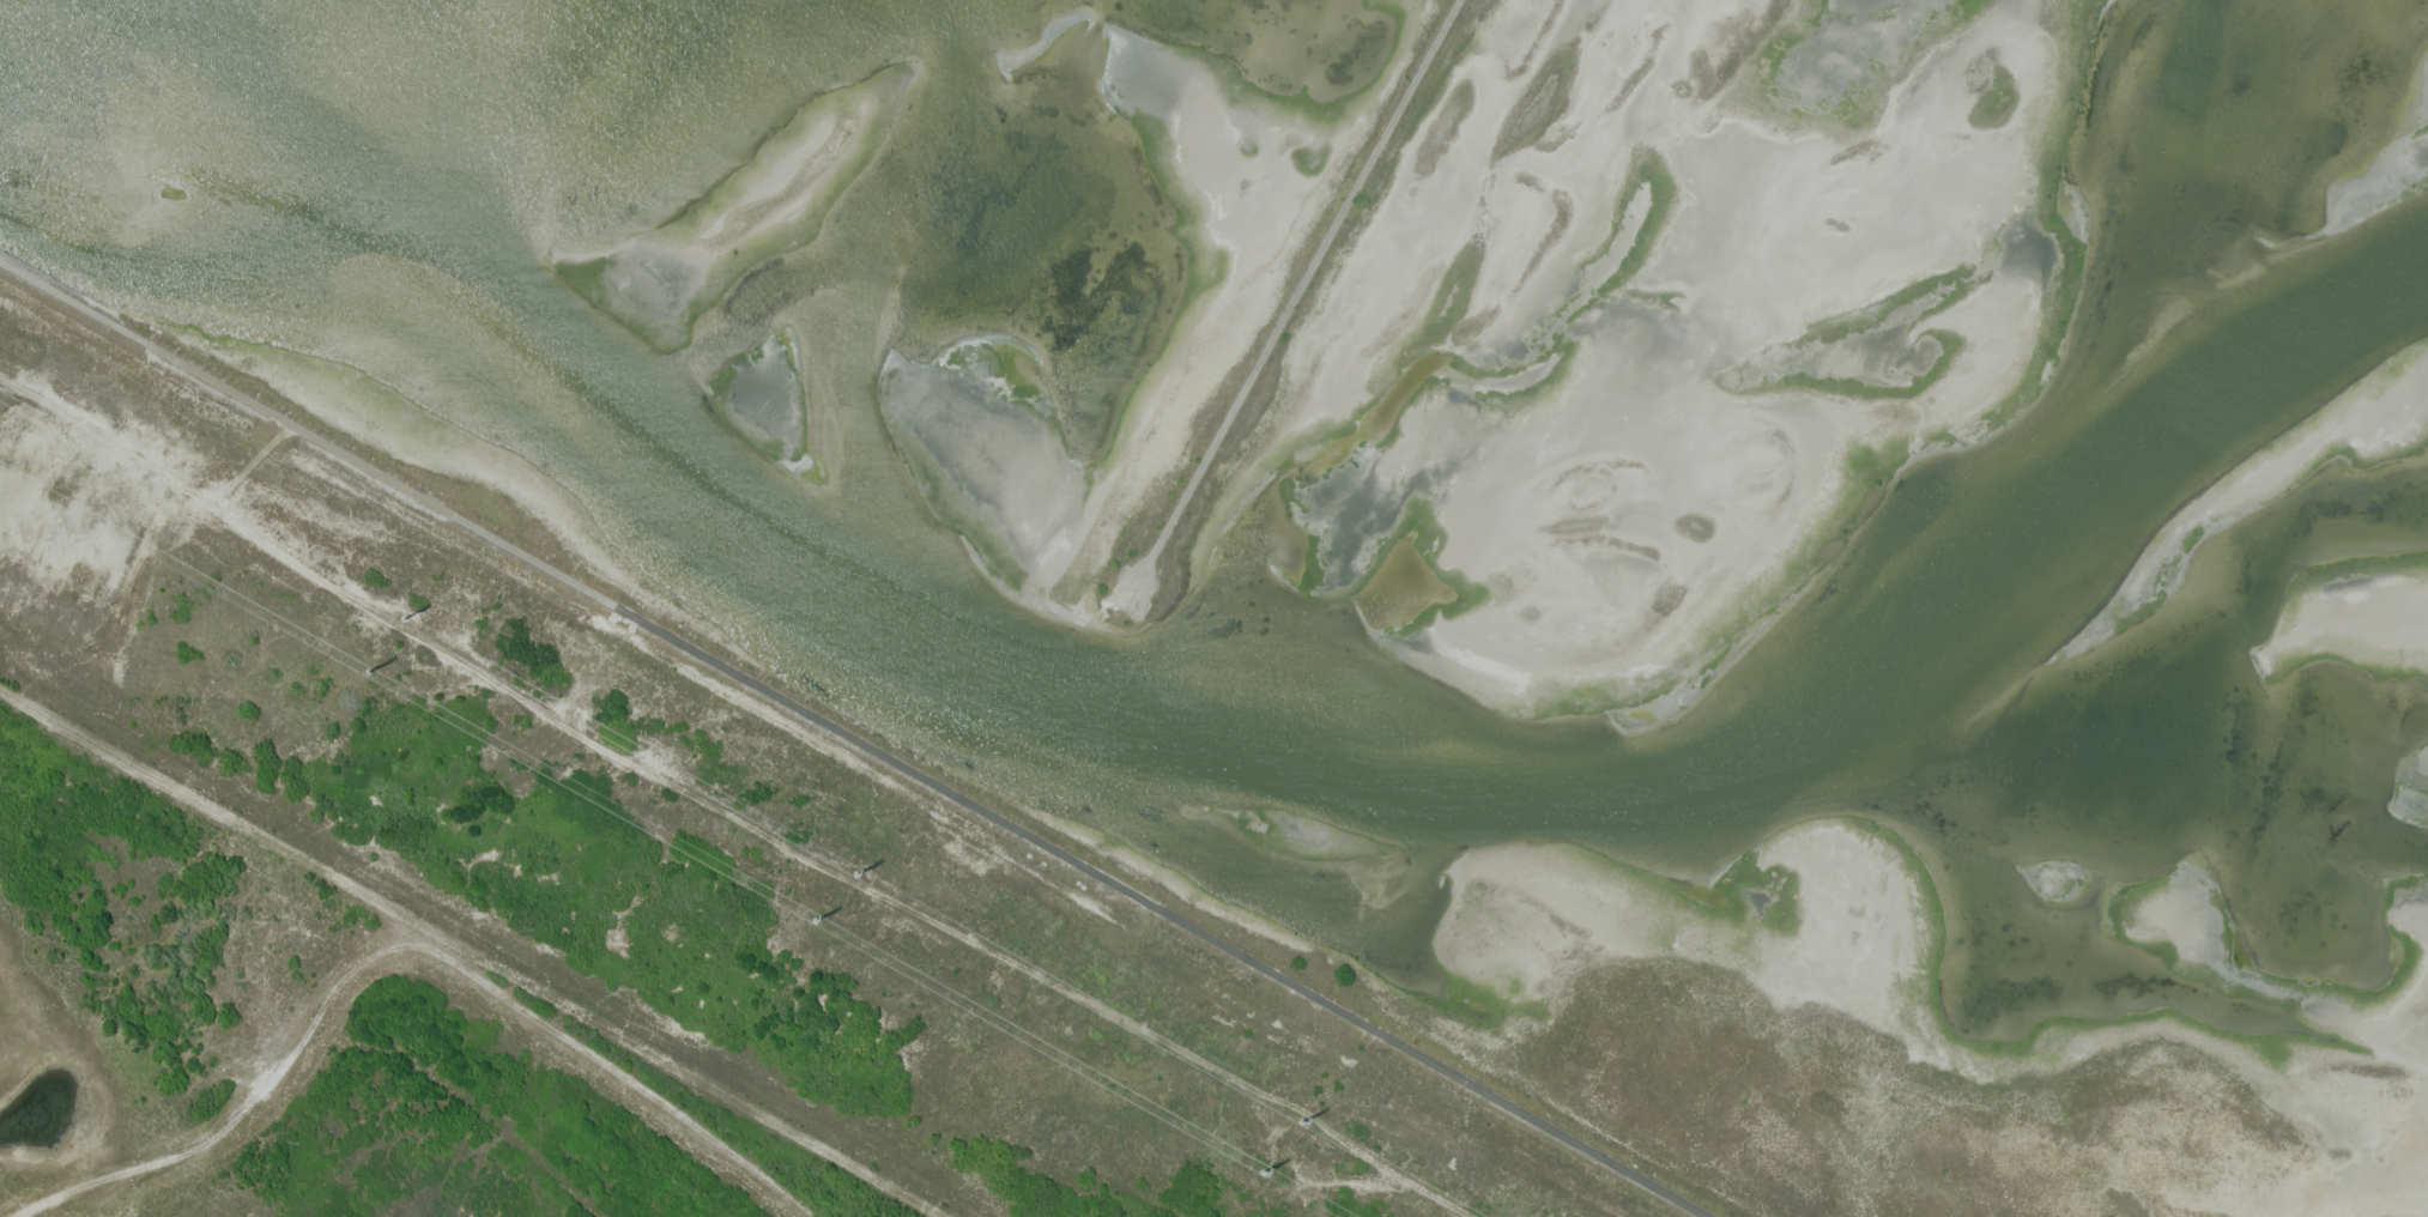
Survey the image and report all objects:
road: (1297, 295)
power plant: (1300, 567)
power tower: (404, 616)
power tower: (369, 668)
road: (853, 738)
power tower: (855, 872)
power tower: (815, 918)
power tower: (1302, 1116)
power tower: (1263, 1168)

